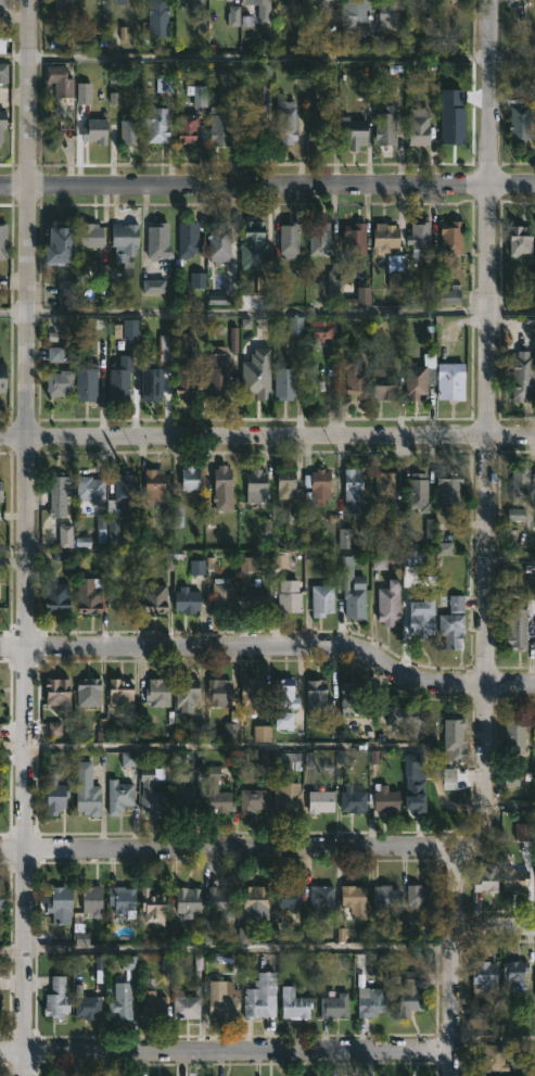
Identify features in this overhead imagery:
building: (228, 0)
building: (457, 0)
building: (286, 1)
building: (421, 1)
building: (2, 3)
building: (190, 3)
building: (321, 3)
building: (62, 7)
building: (260, 10)
building: (387, 12)
building: (156, 13)
building: (355, 21)
building: (2, 46)
road: (267, 59)
building: (3, 74)
building: (59, 81)
building: (284, 121)
building: (454, 121)
building: (219, 122)
building: (519, 122)
building: (2, 123)
building: (155, 125)
building: (250, 126)
building: (317, 126)
building: (385, 127)
building: (417, 127)
building: (188, 128)
building: (128, 129)
building: (94, 131)
building: (352, 131)
road: (267, 189)
building: (89, 235)
building: (384, 236)
building: (187, 238)
building: (319, 238)
building: (353, 238)
building: (419, 238)
building: (451, 238)
building: (158, 239)
building: (289, 239)
building: (217, 240)
building: (519, 240)
building: (1, 244)
building: (56, 244)
building: (125, 244)
building: (253, 249)
building: (395, 273)
building: (155, 288)
building: (65, 292)
road: (267, 313)
building: (126, 328)
building: (353, 328)
building: (321, 329)
building: (98, 338)
building: (165, 350)
building: (183, 366)
building: (220, 367)
building: (255, 374)
building: (356, 376)
building: (522, 376)
building: (2, 377)
building: (417, 379)
building: (86, 380)
building: (119, 380)
building: (449, 380)
building: (151, 381)
building: (60, 382)
building: (284, 382)
building: (383, 384)
road: (267, 438)
building: (190, 478)
building: (285, 482)
building: (318, 483)
building: (519, 483)
building: (153, 484)
building: (222, 484)
building: (384, 484)
building: (256, 485)
building: (449, 488)
building: (90, 489)
building: (417, 489)
building: (355, 491)
building: (59, 494)
building: (1, 499)
building: (119, 506)
building: (517, 516)
road: (22, 537)
building: (347, 540)
road: (486, 541)
road: (278, 558)
building: (89, 594)
building: (257, 594)
building: (222, 595)
building: (289, 596)
building: (55, 597)
building: (154, 597)
building: (355, 598)
building: (187, 599)
building: (321, 599)
building: (124, 600)
building: (390, 603)
building: (422, 616)
building: (453, 622)
building: (518, 628)
road: (271, 647)
building: (219, 691)
building: (88, 692)
building: (156, 692)
building: (58, 693)
building: (119, 693)
building: (186, 693)
building: (283, 694)
building: (251, 695)
building: (315, 696)
building: (351, 697)
building: (405, 720)
building: (284, 721)
building: (514, 736)
building: (453, 740)
road: (260, 752)
building: (285, 761)
building: (415, 784)
building: (182, 785)
building: (86, 789)
building: (54, 793)
building: (216, 793)
building: (150, 794)
building: (118, 795)
building: (288, 798)
road: (509, 798)
building: (319, 799)
building: (384, 799)
building: (251, 800)
building: (352, 800)
building: (523, 834)
road: (232, 846)
building: (534, 862)
building: (487, 877)
building: (513, 878)
building: (419, 896)
building: (385, 897)
building: (1, 898)
building: (288, 898)
building: (123, 900)
building: (255, 900)
building: (322, 900)
building: (354, 900)
building: (92, 901)
building: (188, 902)
building: (220, 902)
building: (59, 904)
building: (153, 906)
road: (494, 927)
road: (226, 950)
building: (513, 972)
building: (484, 977)
building: (123, 991)
building: (410, 995)
building: (260, 997)
building: (56, 999)
building: (220, 1001)
building: (293, 1003)
building: (371, 1003)
building: (86, 1004)
building: (152, 1004)
building: (183, 1005)
building: (333, 1007)
road: (493, 1039)
road: (225, 1048)
building: (495, 1059)
building: (477, 1075)
building: (526, 1075)

